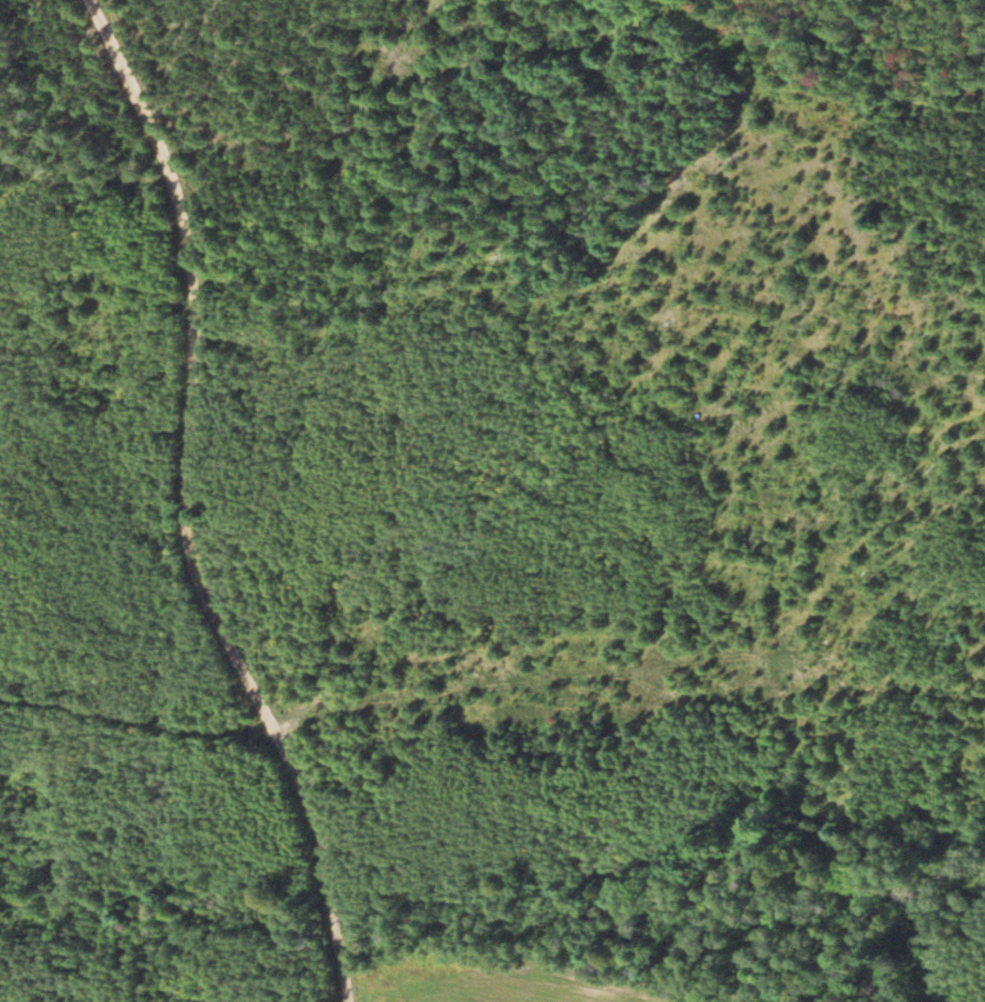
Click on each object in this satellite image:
road: (179, 503)

